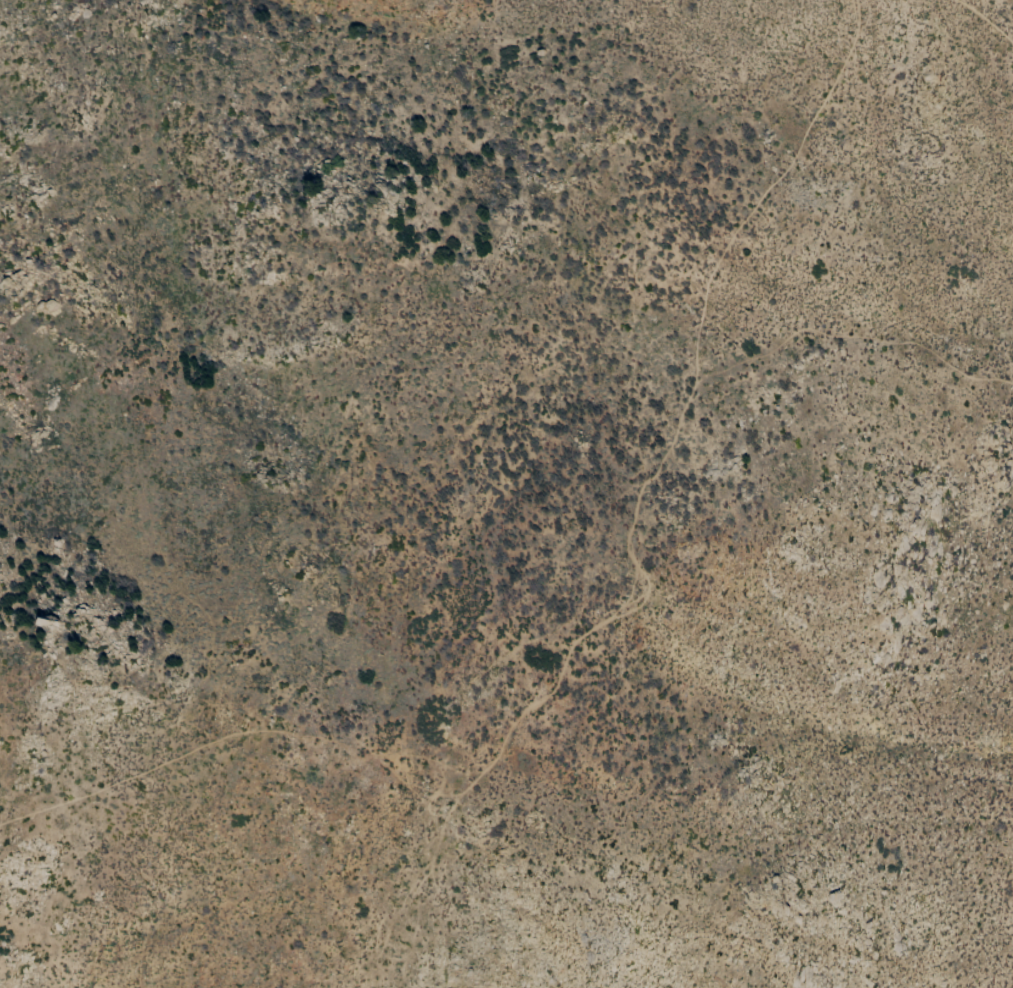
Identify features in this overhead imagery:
road: (986, 18)
road: (894, 132)
road: (593, 630)
road: (470, 836)

